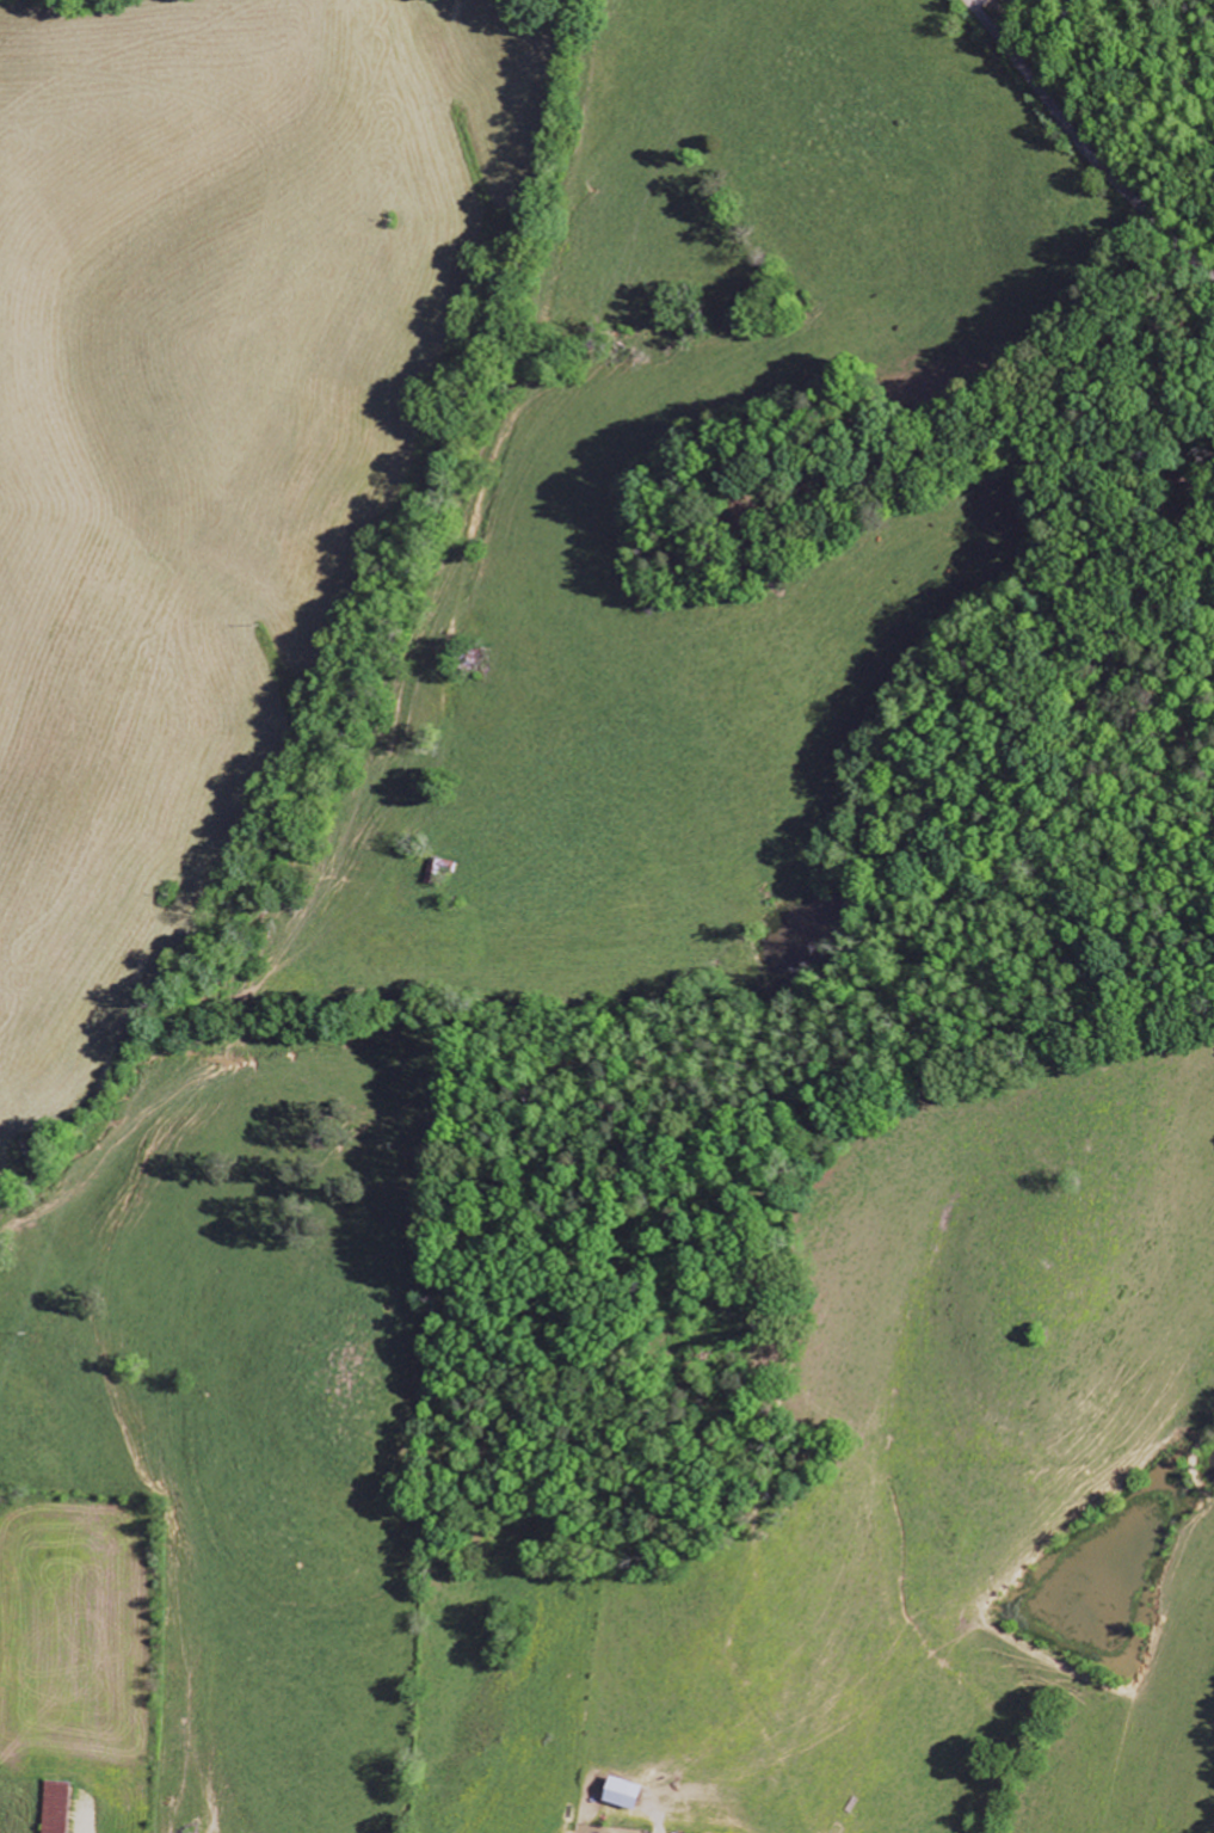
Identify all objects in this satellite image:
road: (1083, 144)
building: (51, 1808)

